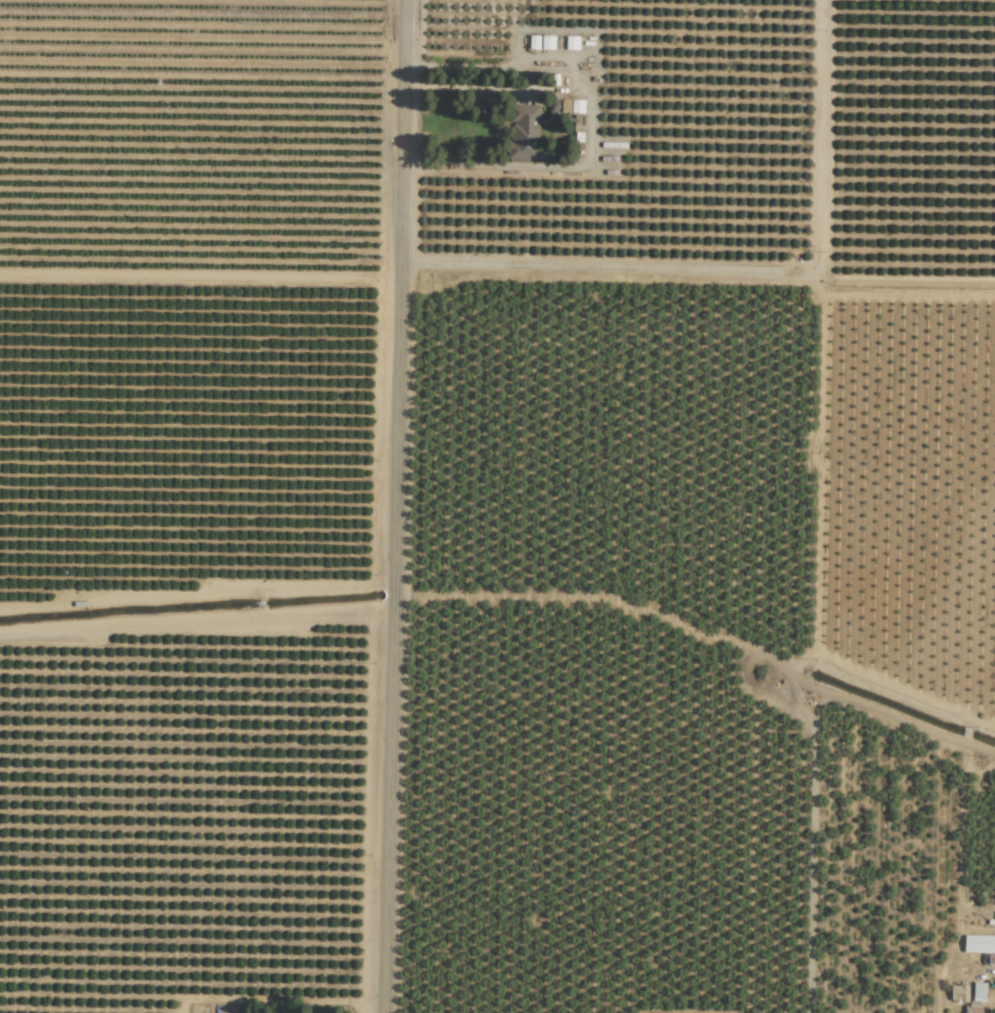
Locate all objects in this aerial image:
building: (534, 42)
building: (547, 42)
building: (572, 42)
road: (489, 88)
road: (588, 125)
building: (525, 131)
road: (740, 270)
road: (393, 506)
building: (979, 943)
building: (979, 991)
building: (959, 993)
building: (972, 1009)

